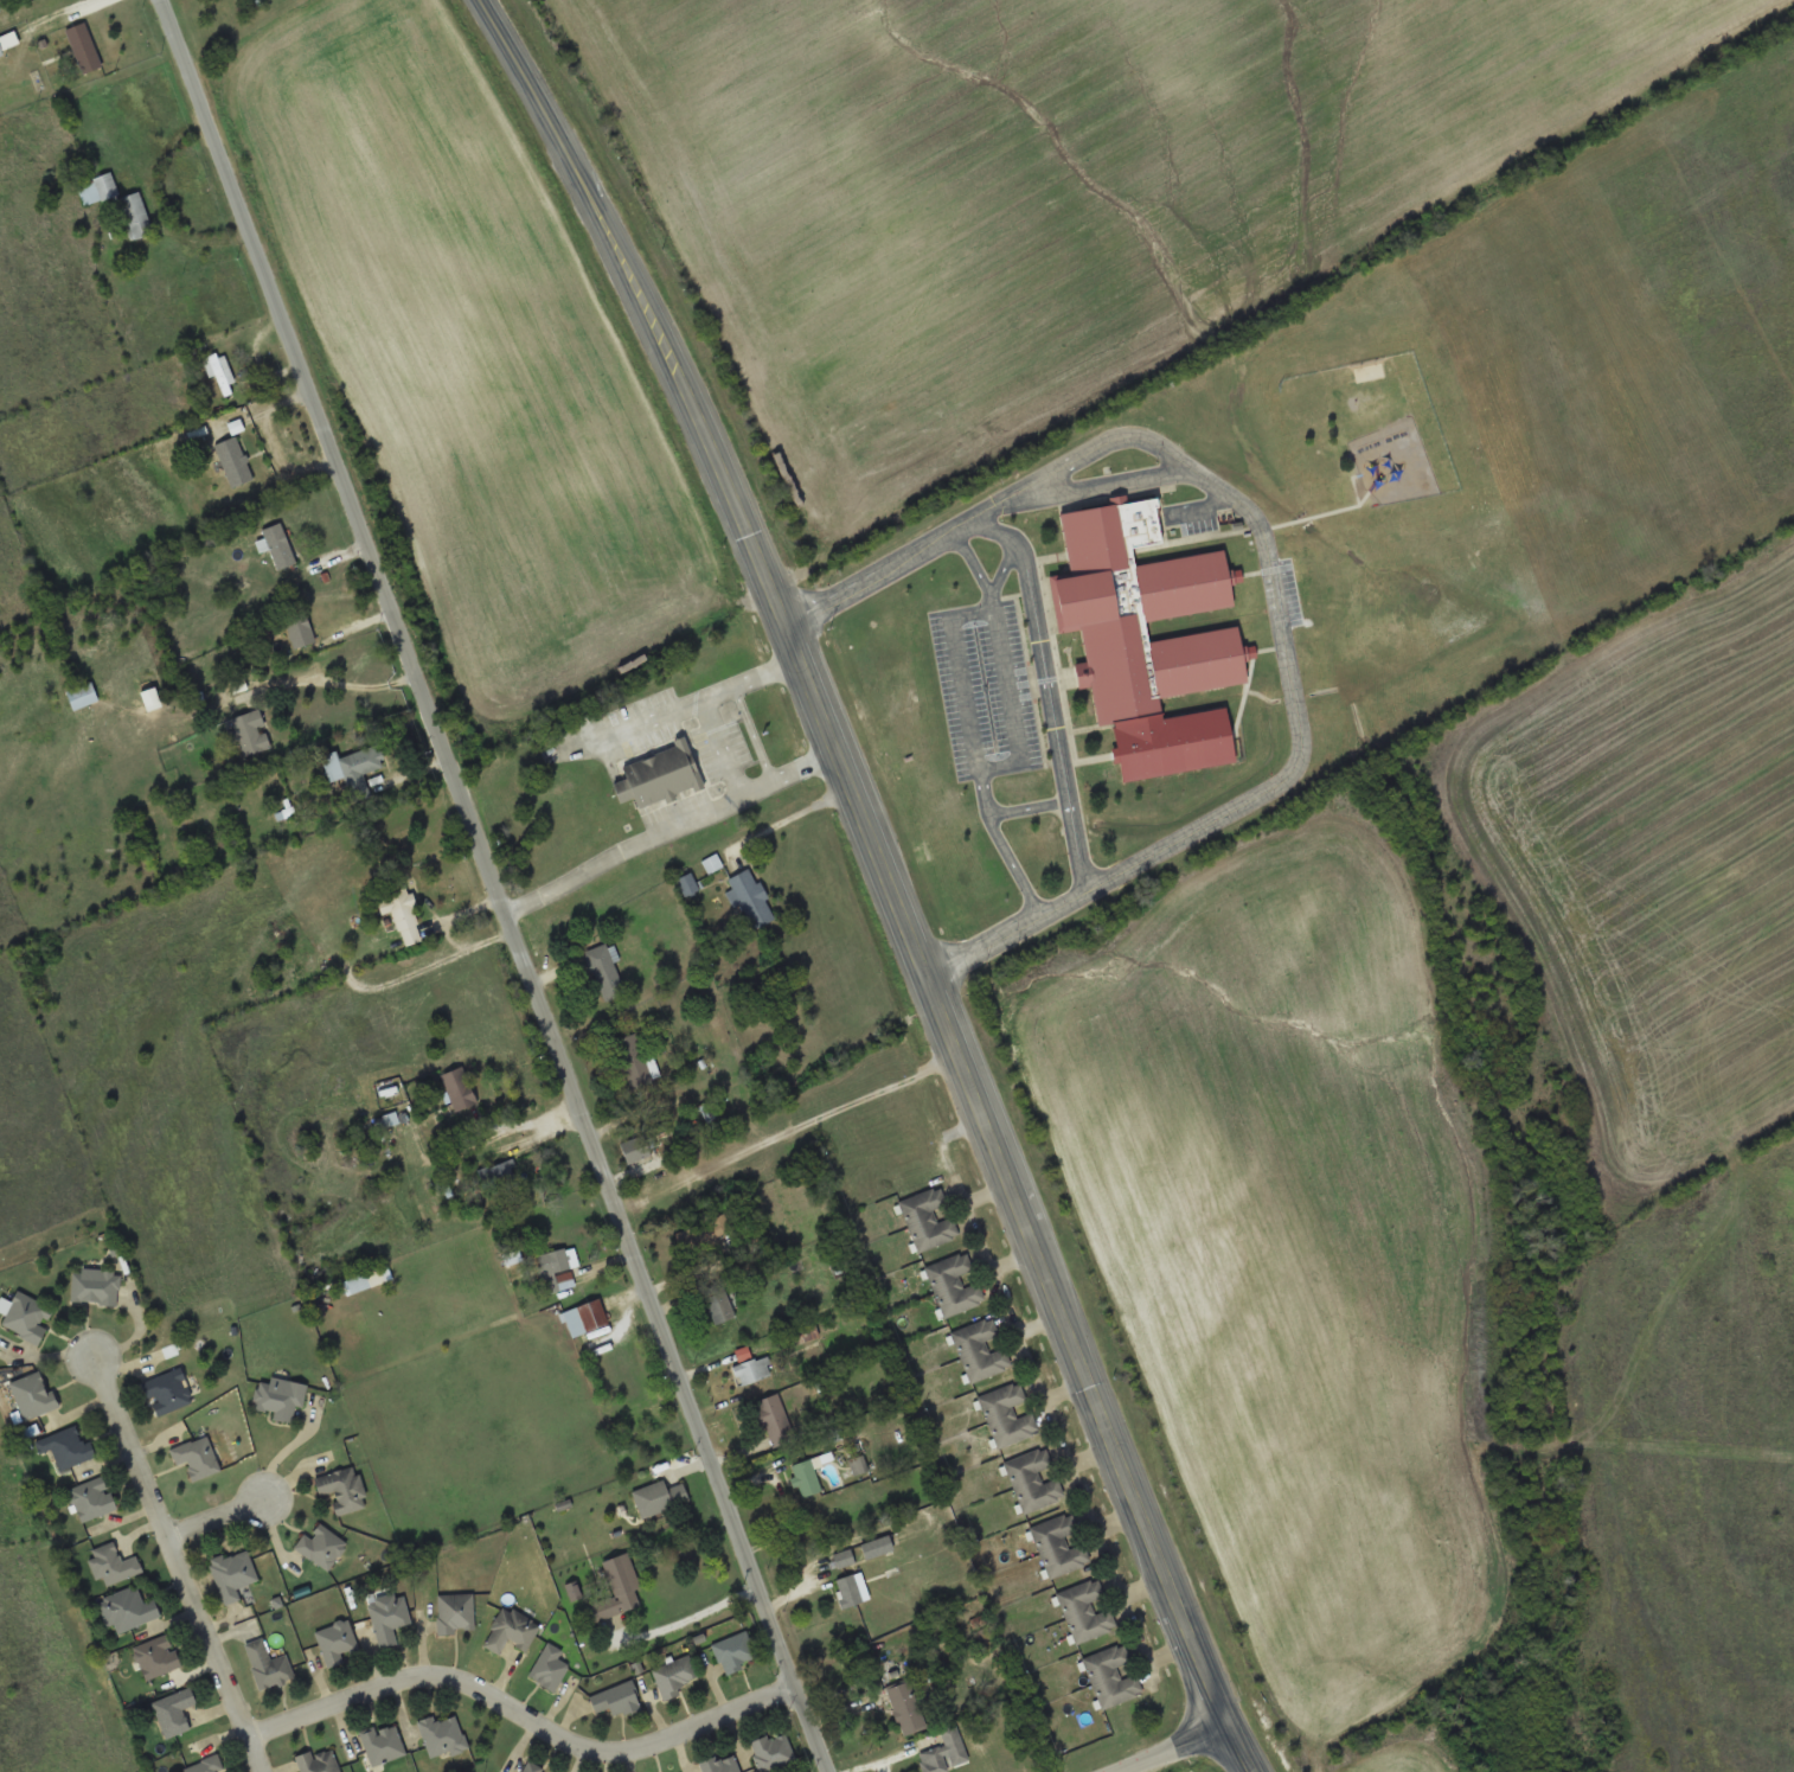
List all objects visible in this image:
building: (85, 49)
building: (1, 51)
building: (97, 188)
building: (134, 217)
building: (219, 372)
building: (233, 461)
building: (277, 545)
road: (1274, 583)
building: (1139, 609)
building: (299, 629)
road: (1050, 685)
building: (82, 695)
road: (703, 699)
building: (251, 733)
building: (353, 768)
building: (659, 776)
road: (671, 826)
road: (890, 877)
road: (496, 887)
building: (750, 897)
building: (401, 916)
building: (604, 971)
building: (634, 1060)
building: (457, 1087)
building: (479, 1132)
building: (635, 1152)
building: (505, 1175)
building: (927, 1218)
building: (701, 1234)
building: (557, 1269)
building: (952, 1284)
building: (95, 1286)
building: (717, 1304)
building: (27, 1317)
building: (585, 1317)
building: (979, 1349)
building: (751, 1369)
building: (168, 1392)
building: (33, 1394)
building: (278, 1397)
building: (1006, 1414)
building: (774, 1420)
building: (68, 1447)
building: (805, 1477)
building: (1032, 1478)
building: (342, 1489)
building: (658, 1497)
building: (92, 1498)
road: (214, 1516)
building: (876, 1546)
building: (1058, 1546)
building: (840, 1559)
road: (175, 1561)
building: (232, 1574)
building: (851, 1588)
building: (617, 1589)
building: (128, 1610)
building: (1084, 1611)
building: (455, 1612)
building: (387, 1617)
building: (512, 1630)
building: (337, 1642)
building: (735, 1651)
building: (158, 1656)
building: (268, 1665)
building: (549, 1667)
building: (673, 1675)
building: (1110, 1676)
building: (615, 1699)
building: (908, 1706)
building: (174, 1710)
road: (521, 1710)
building: (442, 1735)
building: (384, 1745)
road: (1170, 1747)
building: (773, 1751)
building: (943, 1751)
building: (318, 1760)
building: (720, 1763)
building: (206, 1765)
building: (532, 1767)

